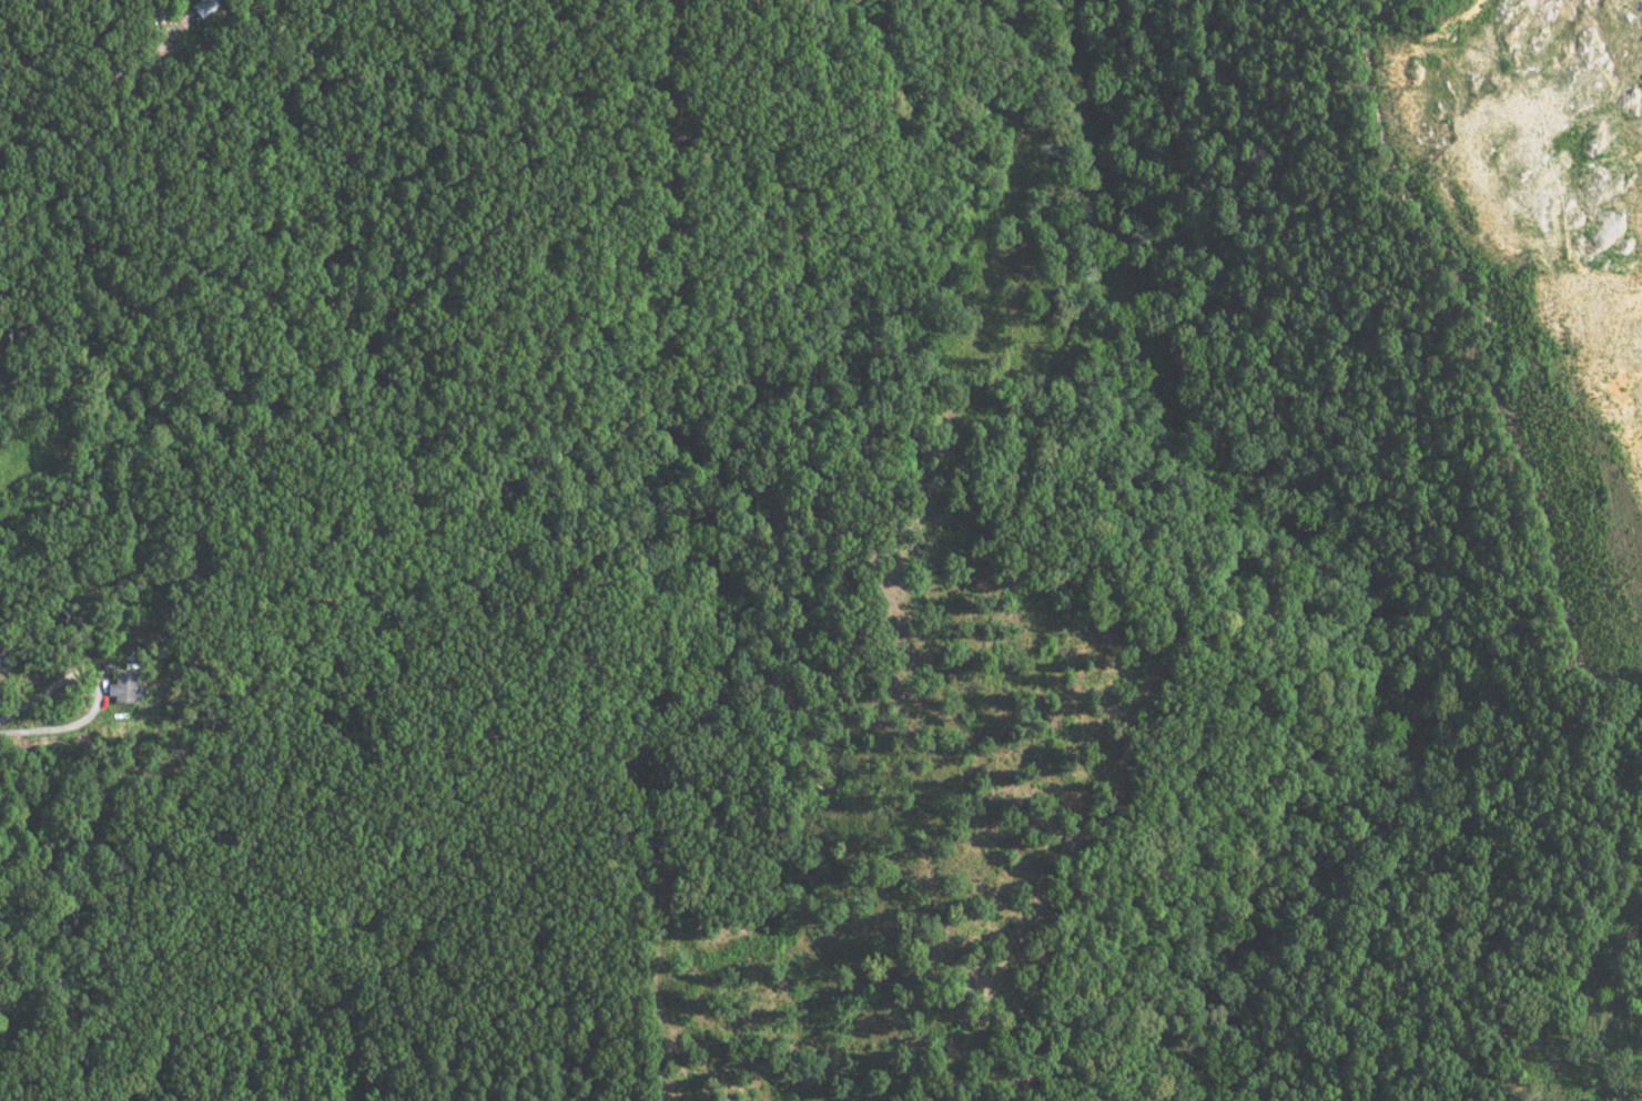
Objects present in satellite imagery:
quarry: (1544, 258)
building: (125, 685)

